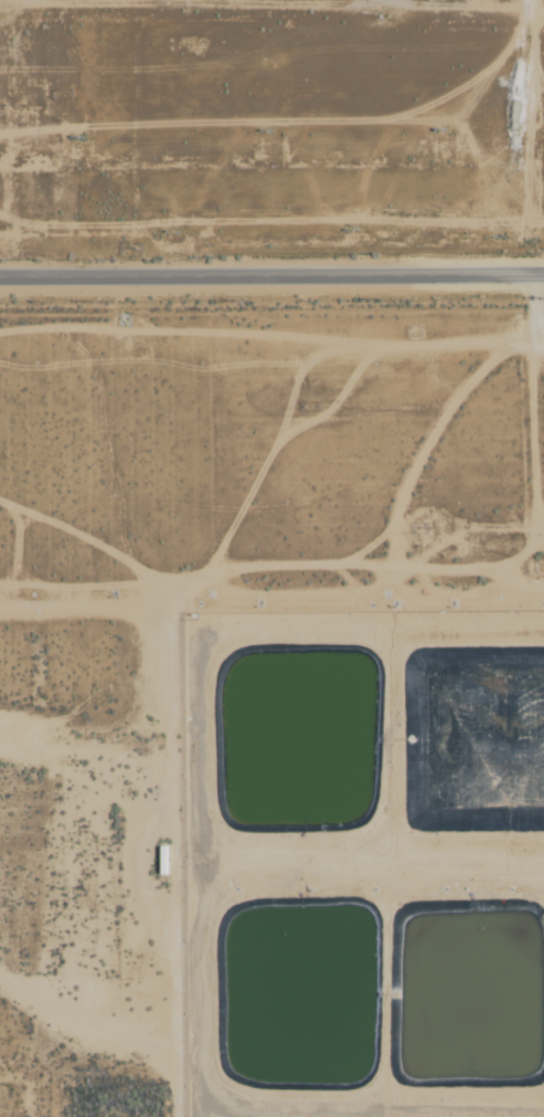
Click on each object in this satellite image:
road: (271, 272)

